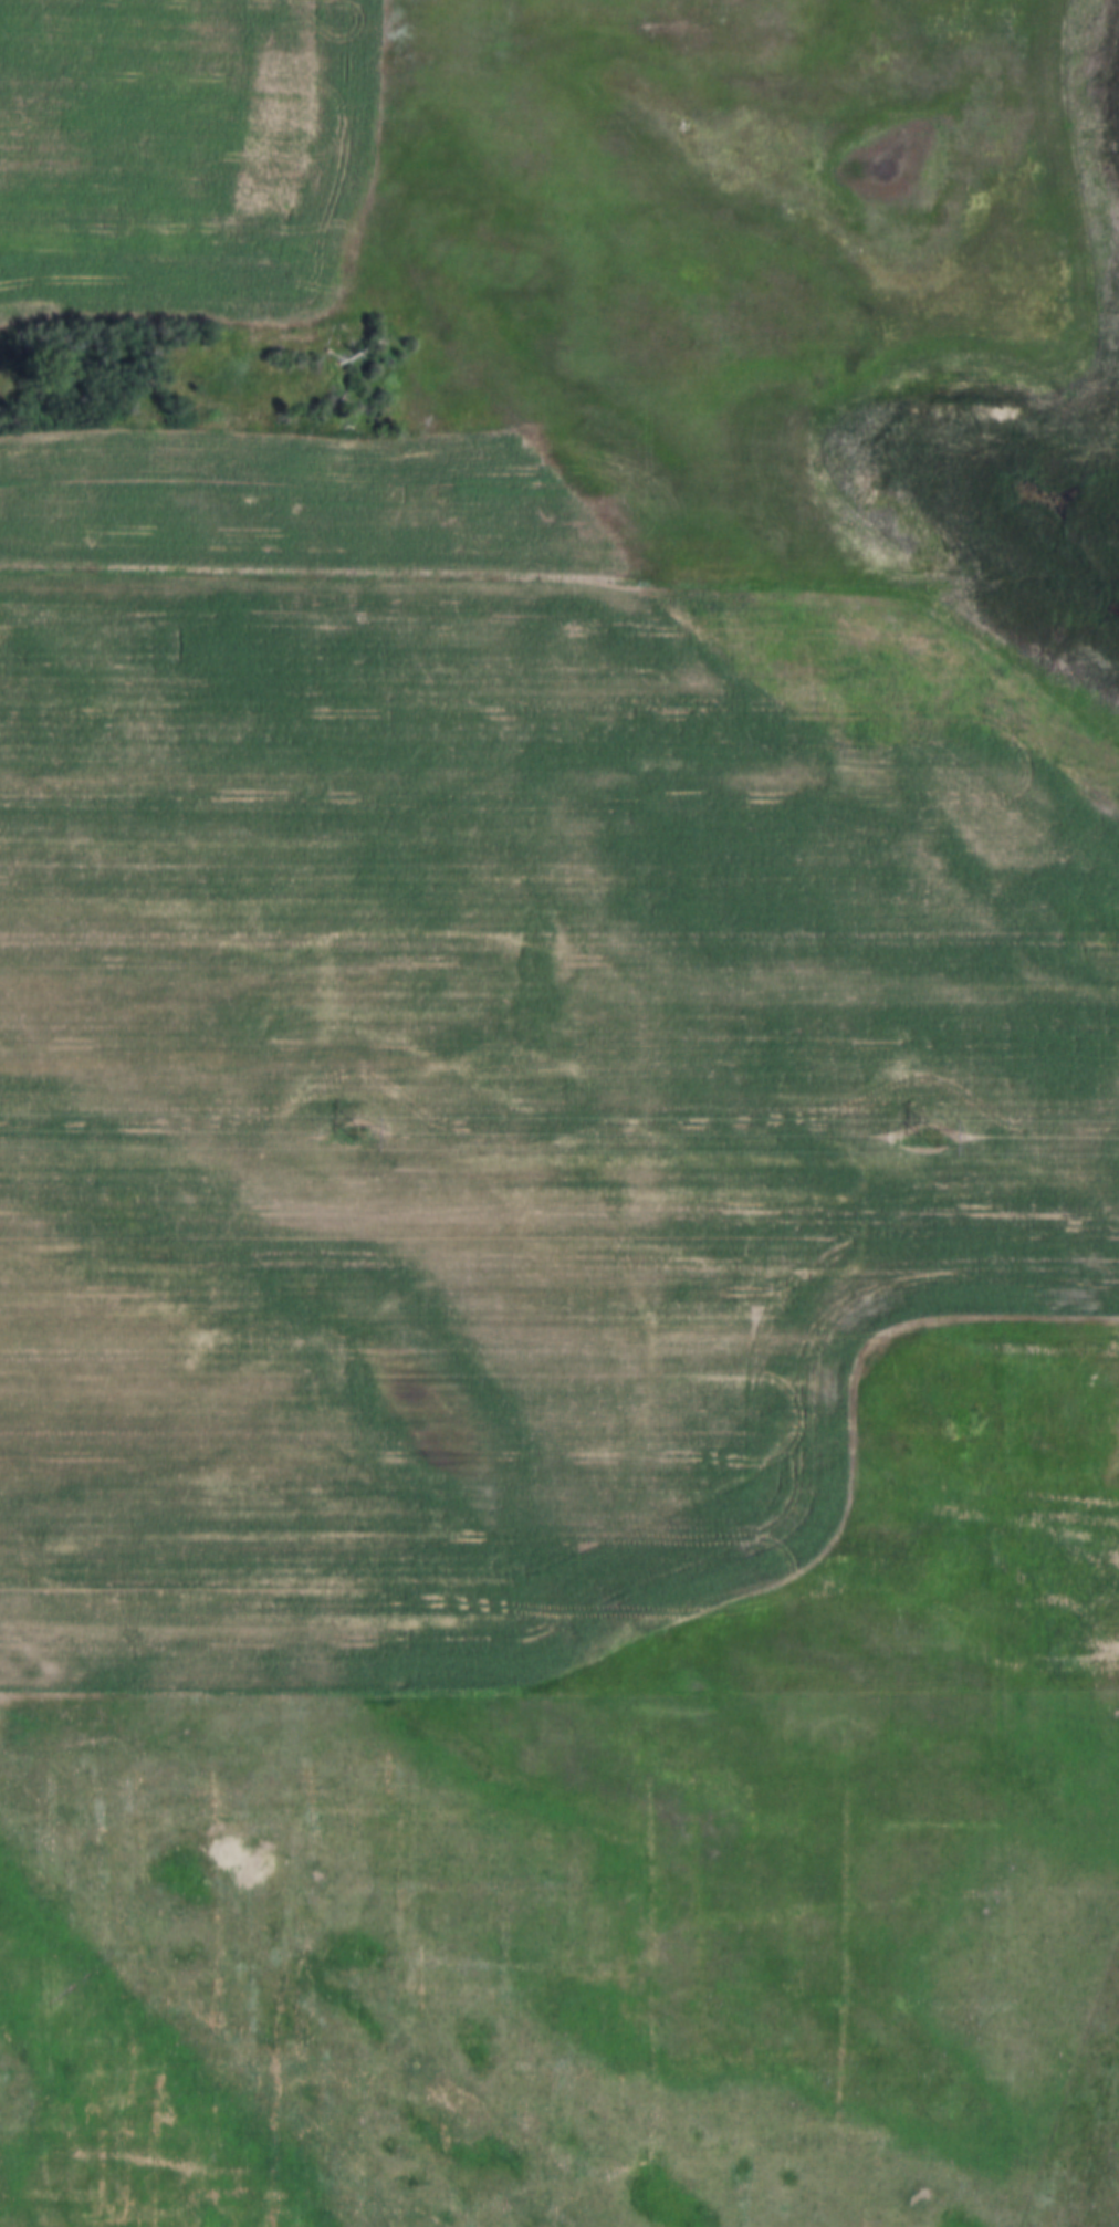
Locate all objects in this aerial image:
power tower: (356, 1136)
power tower: (930, 1137)

